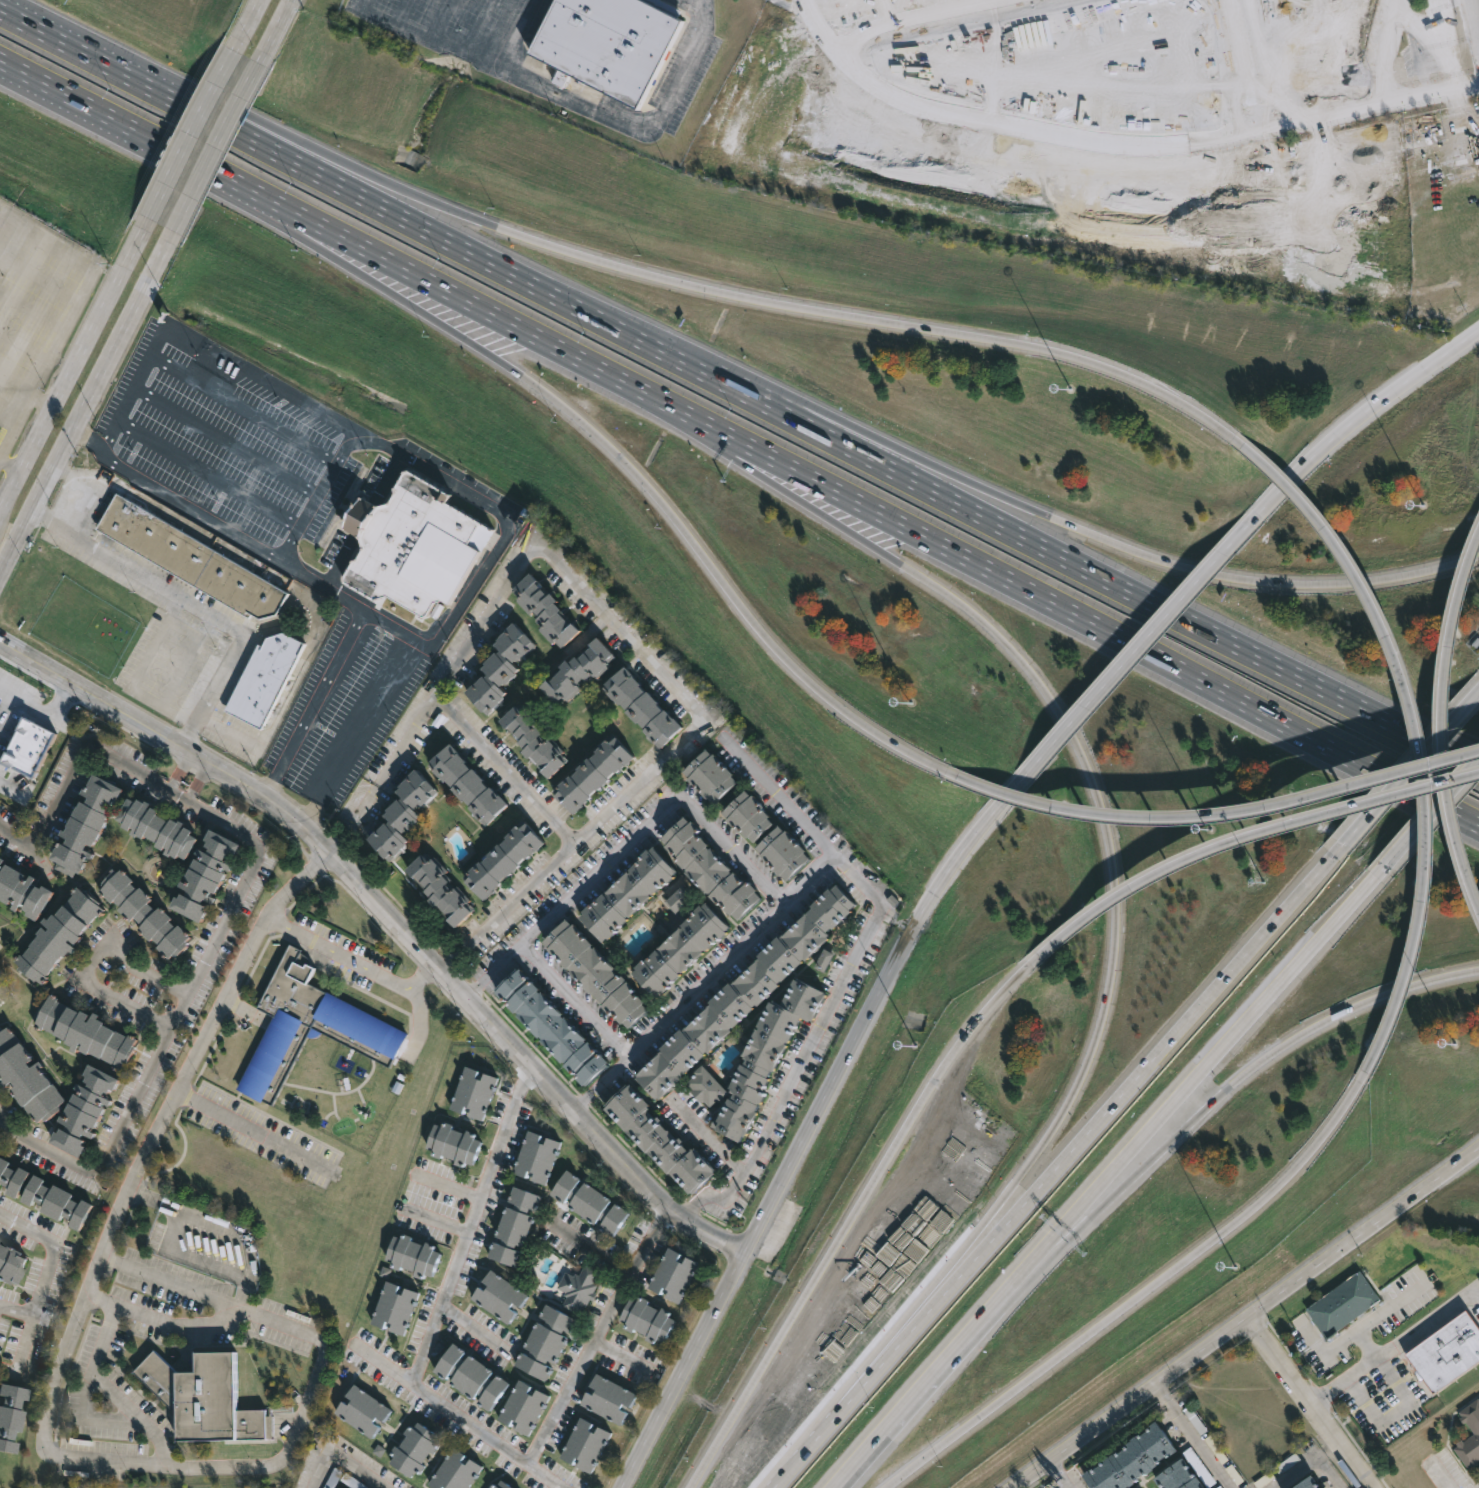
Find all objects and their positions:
road: (799, 1)
road: (699, 5)
road: (905, 16)
road: (250, 21)
road: (482, 22)
road: (277, 27)
road: (414, 28)
building: (604, 43)
parking lot: (1354, 44)
road: (1246, 67)
road: (171, 78)
road: (74, 102)
road: (619, 122)
road: (195, 129)
road: (218, 141)
road: (1115, 151)
road: (306, 168)
road: (262, 212)
road: (377, 256)
road: (791, 305)
road: (78, 310)
road: (75, 366)
road: (750, 381)
road: (263, 384)
road: (131, 389)
road: (44, 401)
road: (87, 402)
road: (242, 409)
road: (1354, 426)
road: (705, 440)
road: (224, 442)
road: (10, 466)
road: (206, 475)
road: (385, 478)
road: (447, 479)
road: (85, 490)
road: (362, 517)
road: (674, 521)
building: (410, 543)
road: (1045, 549)
building: (187, 557)
road: (340, 558)
road: (1170, 563)
road: (309, 574)
road: (1042, 596)
road: (198, 606)
building: (543, 610)
road: (624, 634)
road: (387, 643)
road: (157, 645)
road: (1145, 658)
road: (187, 662)
building: (498, 666)
building: (578, 671)
building: (260, 676)
building: (0, 699)
road: (146, 700)
road: (434, 701)
building: (638, 705)
road: (7, 713)
road: (42, 715)
road: (1433, 725)
road: (229, 733)
road: (1408, 736)
building: (531, 740)
road: (358, 743)
building: (29, 748)
road: (1411, 766)
road: (179, 771)
road: (506, 771)
building: (590, 773)
building: (711, 775)
road: (156, 779)
road: (197, 780)
building: (463, 783)
road: (1431, 810)
building: (397, 814)
road: (1216, 816)
building: (87, 827)
building: (160, 829)
building: (768, 836)
road: (1244, 837)
road: (573, 845)
road: (627, 846)
building: (498, 861)
building: (709, 868)
road: (1113, 874)
building: (208, 877)
building: (435, 889)
building: (24, 892)
building: (627, 893)
building: (680, 897)
building: (147, 914)
road: (393, 924)
building: (61, 937)
building: (680, 949)
road: (347, 959)
road: (92, 960)
building: (824, 960)
building: (594, 972)
road: (847, 976)
road: (704, 983)
building: (746, 993)
road: (578, 999)
road: (415, 1016)
building: (302, 1025)
building: (547, 1027)
building: (87, 1033)
road: (1284, 1045)
road: (1216, 1052)
building: (766, 1056)
building: (27, 1070)
building: (707, 1086)
building: (472, 1093)
road: (131, 1108)
building: (77, 1110)
road: (1100, 1116)
road: (816, 1121)
road: (250, 1132)
road: (707, 1137)
building: (657, 1138)
building: (451, 1144)
building: (534, 1158)
building: (12, 1178)
road: (450, 1185)
building: (57, 1202)
building: (587, 1203)
road: (1089, 1212)
road: (851, 1214)
road: (438, 1220)
building: (511, 1227)
road: (473, 1228)
road: (592, 1250)
building: (410, 1257)
road: (52, 1264)
building: (13, 1265)
building: (672, 1276)
building: (578, 1288)
road: (1138, 1293)
building: (496, 1297)
building: (1343, 1305)
building: (392, 1309)
road: (1387, 1312)
building: (645, 1320)
road: (1249, 1321)
road: (162, 1323)
road: (1356, 1332)
road: (475, 1335)
road: (596, 1335)
building: (544, 1344)
road: (1393, 1348)
road: (882, 1349)
road: (620, 1353)
building: (1447, 1353)
road: (942, 1364)
building: (468, 1377)
road: (109, 1390)
road: (1164, 1396)
building: (202, 1399)
building: (607, 1399)
road: (1307, 1405)
road: (443, 1408)
building: (520, 1408)
building: (360, 1410)
road: (1392, 1413)
building: (14, 1415)
road: (43, 1423)
building: (1474, 1428)
road: (813, 1438)
building: (583, 1443)
road: (1200, 1446)
building: (412, 1448)
road: (1331, 1450)
road: (1320, 1457)
building: (1130, 1458)
road: (350, 1459)
building: (453, 1471)
road: (1330, 1472)
road: (1295, 1474)
building: (1178, 1476)
road: (544, 1477)
road: (1061, 1477)
road: (1441, 1480)
building: (1307, 1482)
building: (499, 1484)
building: (339, 1487)

